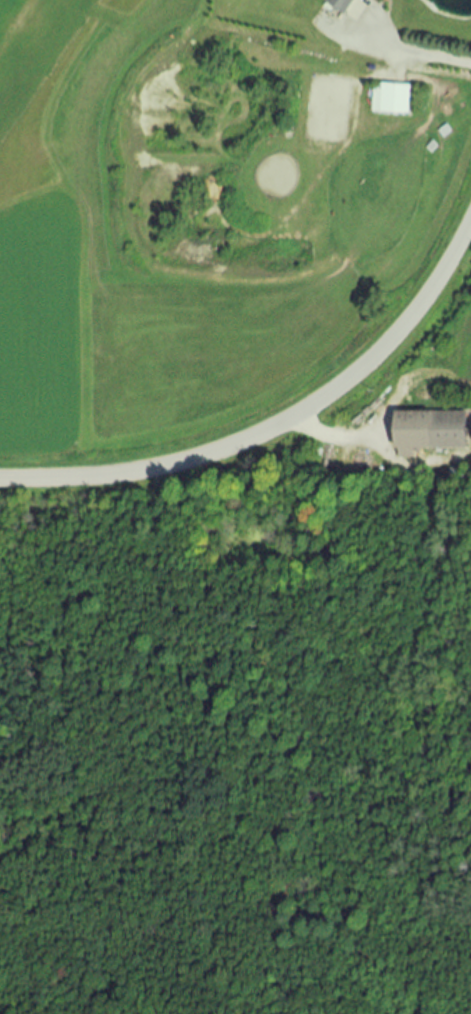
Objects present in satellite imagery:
road: (412, 52)
building: (387, 100)
road: (279, 422)
building: (422, 432)
road: (329, 441)

